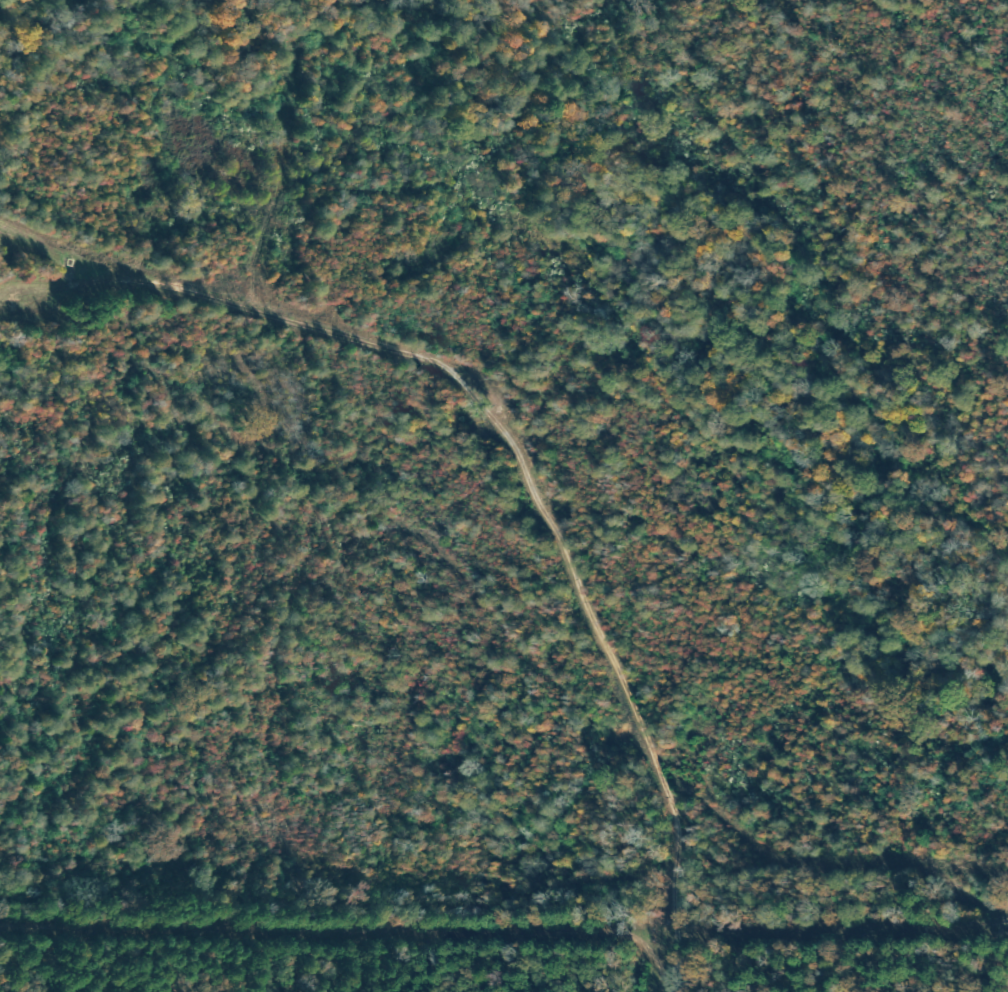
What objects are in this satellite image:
road: (545, 889)

